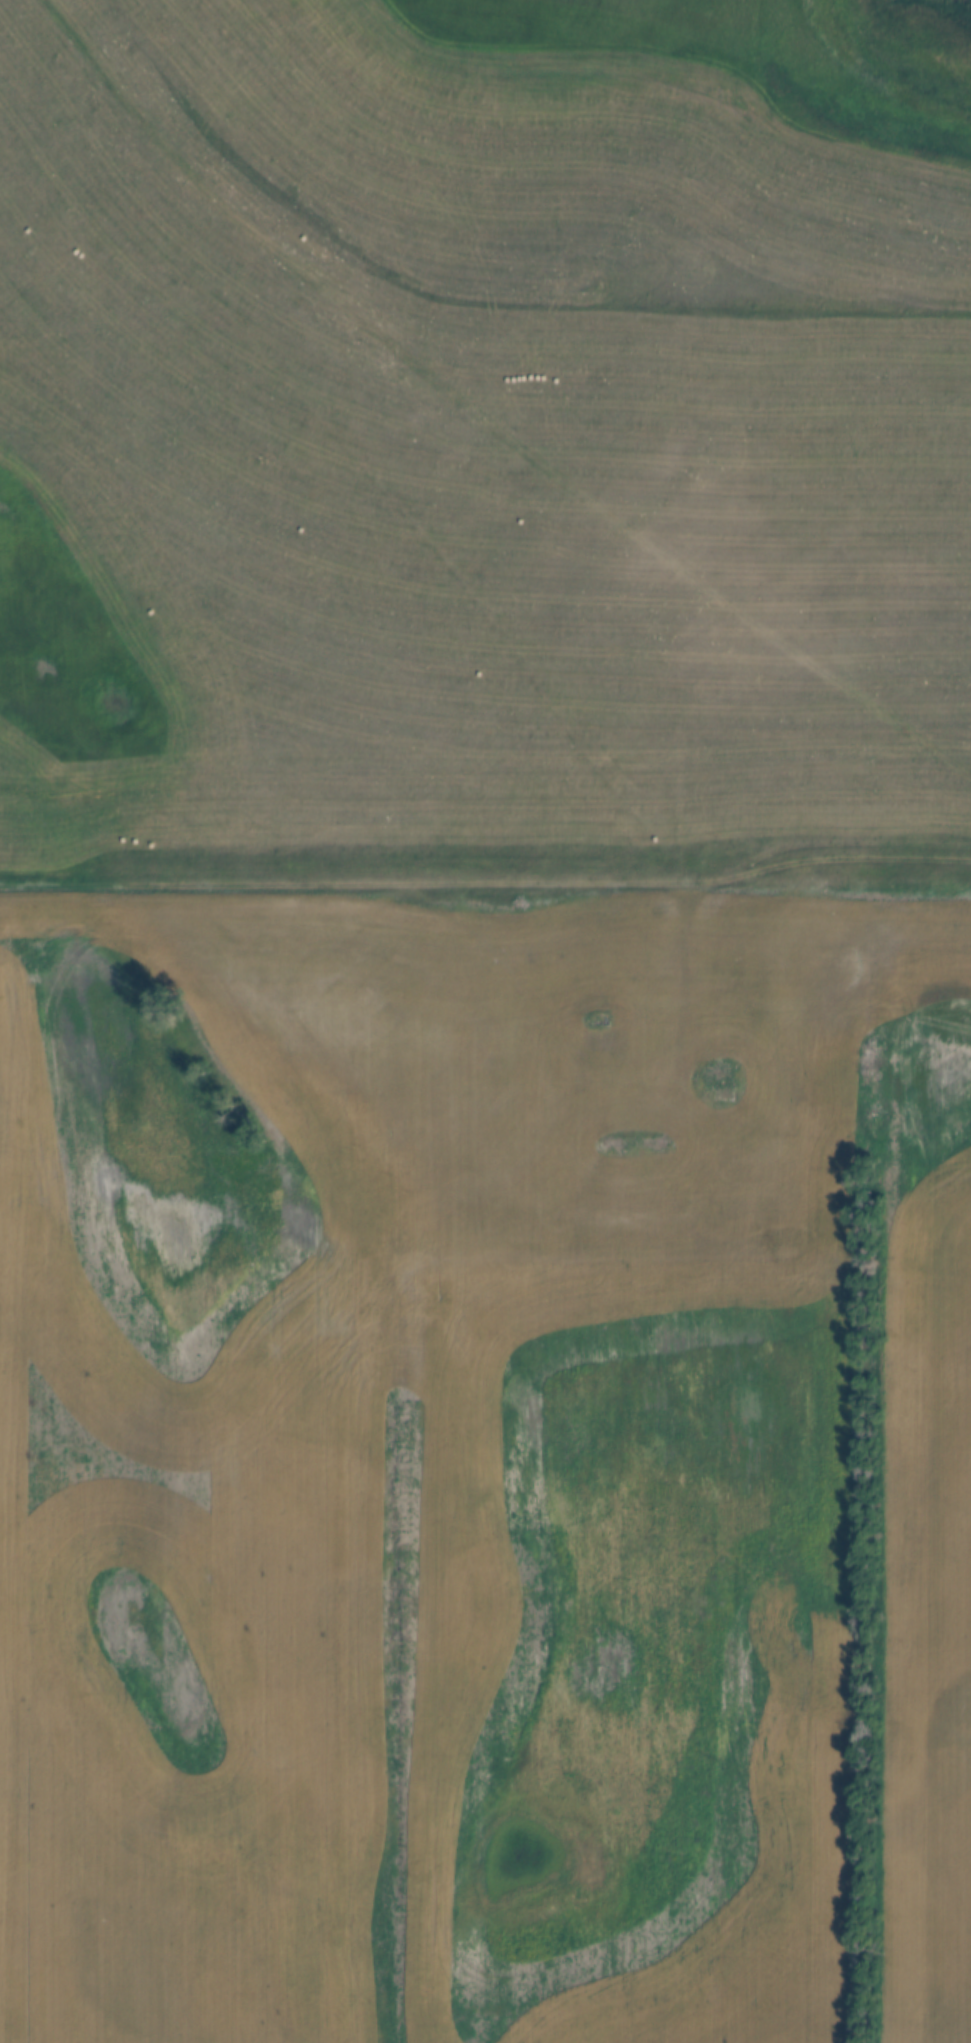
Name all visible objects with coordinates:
building: (17, 404)
road: (485, 867)

